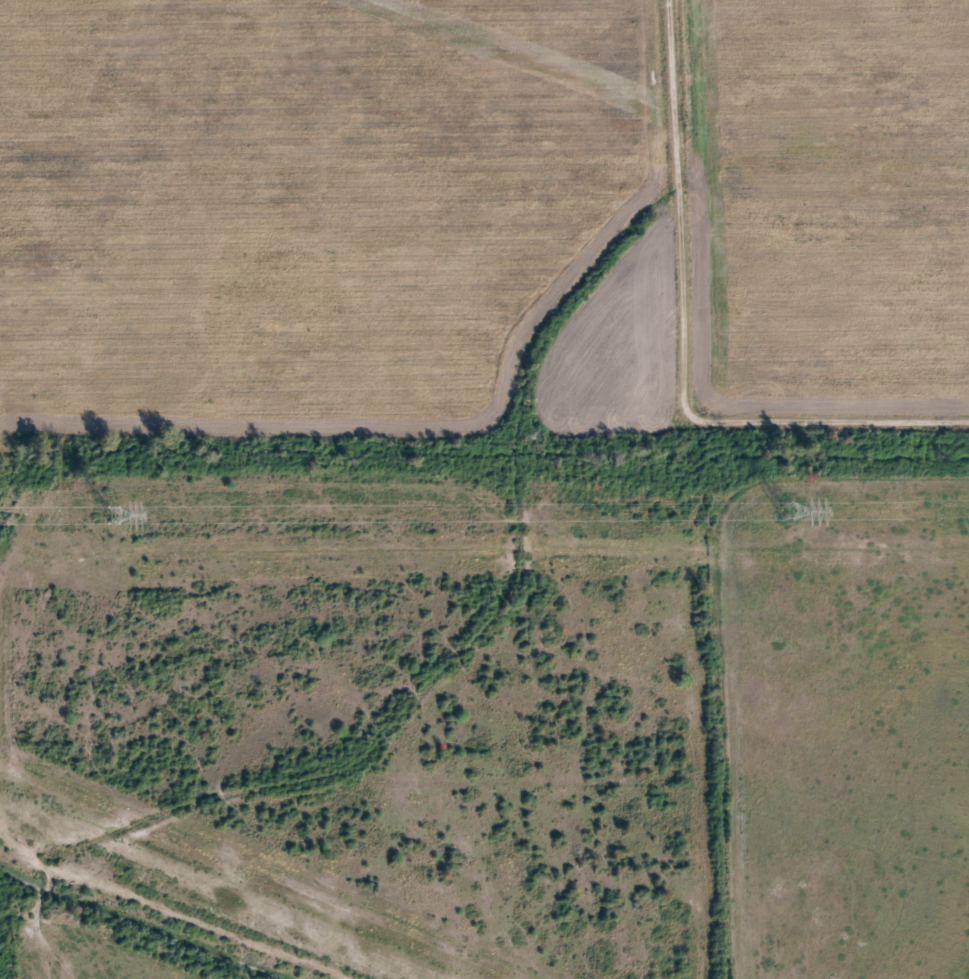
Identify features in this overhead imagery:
power tower: (787, 509)
power tower: (114, 513)

